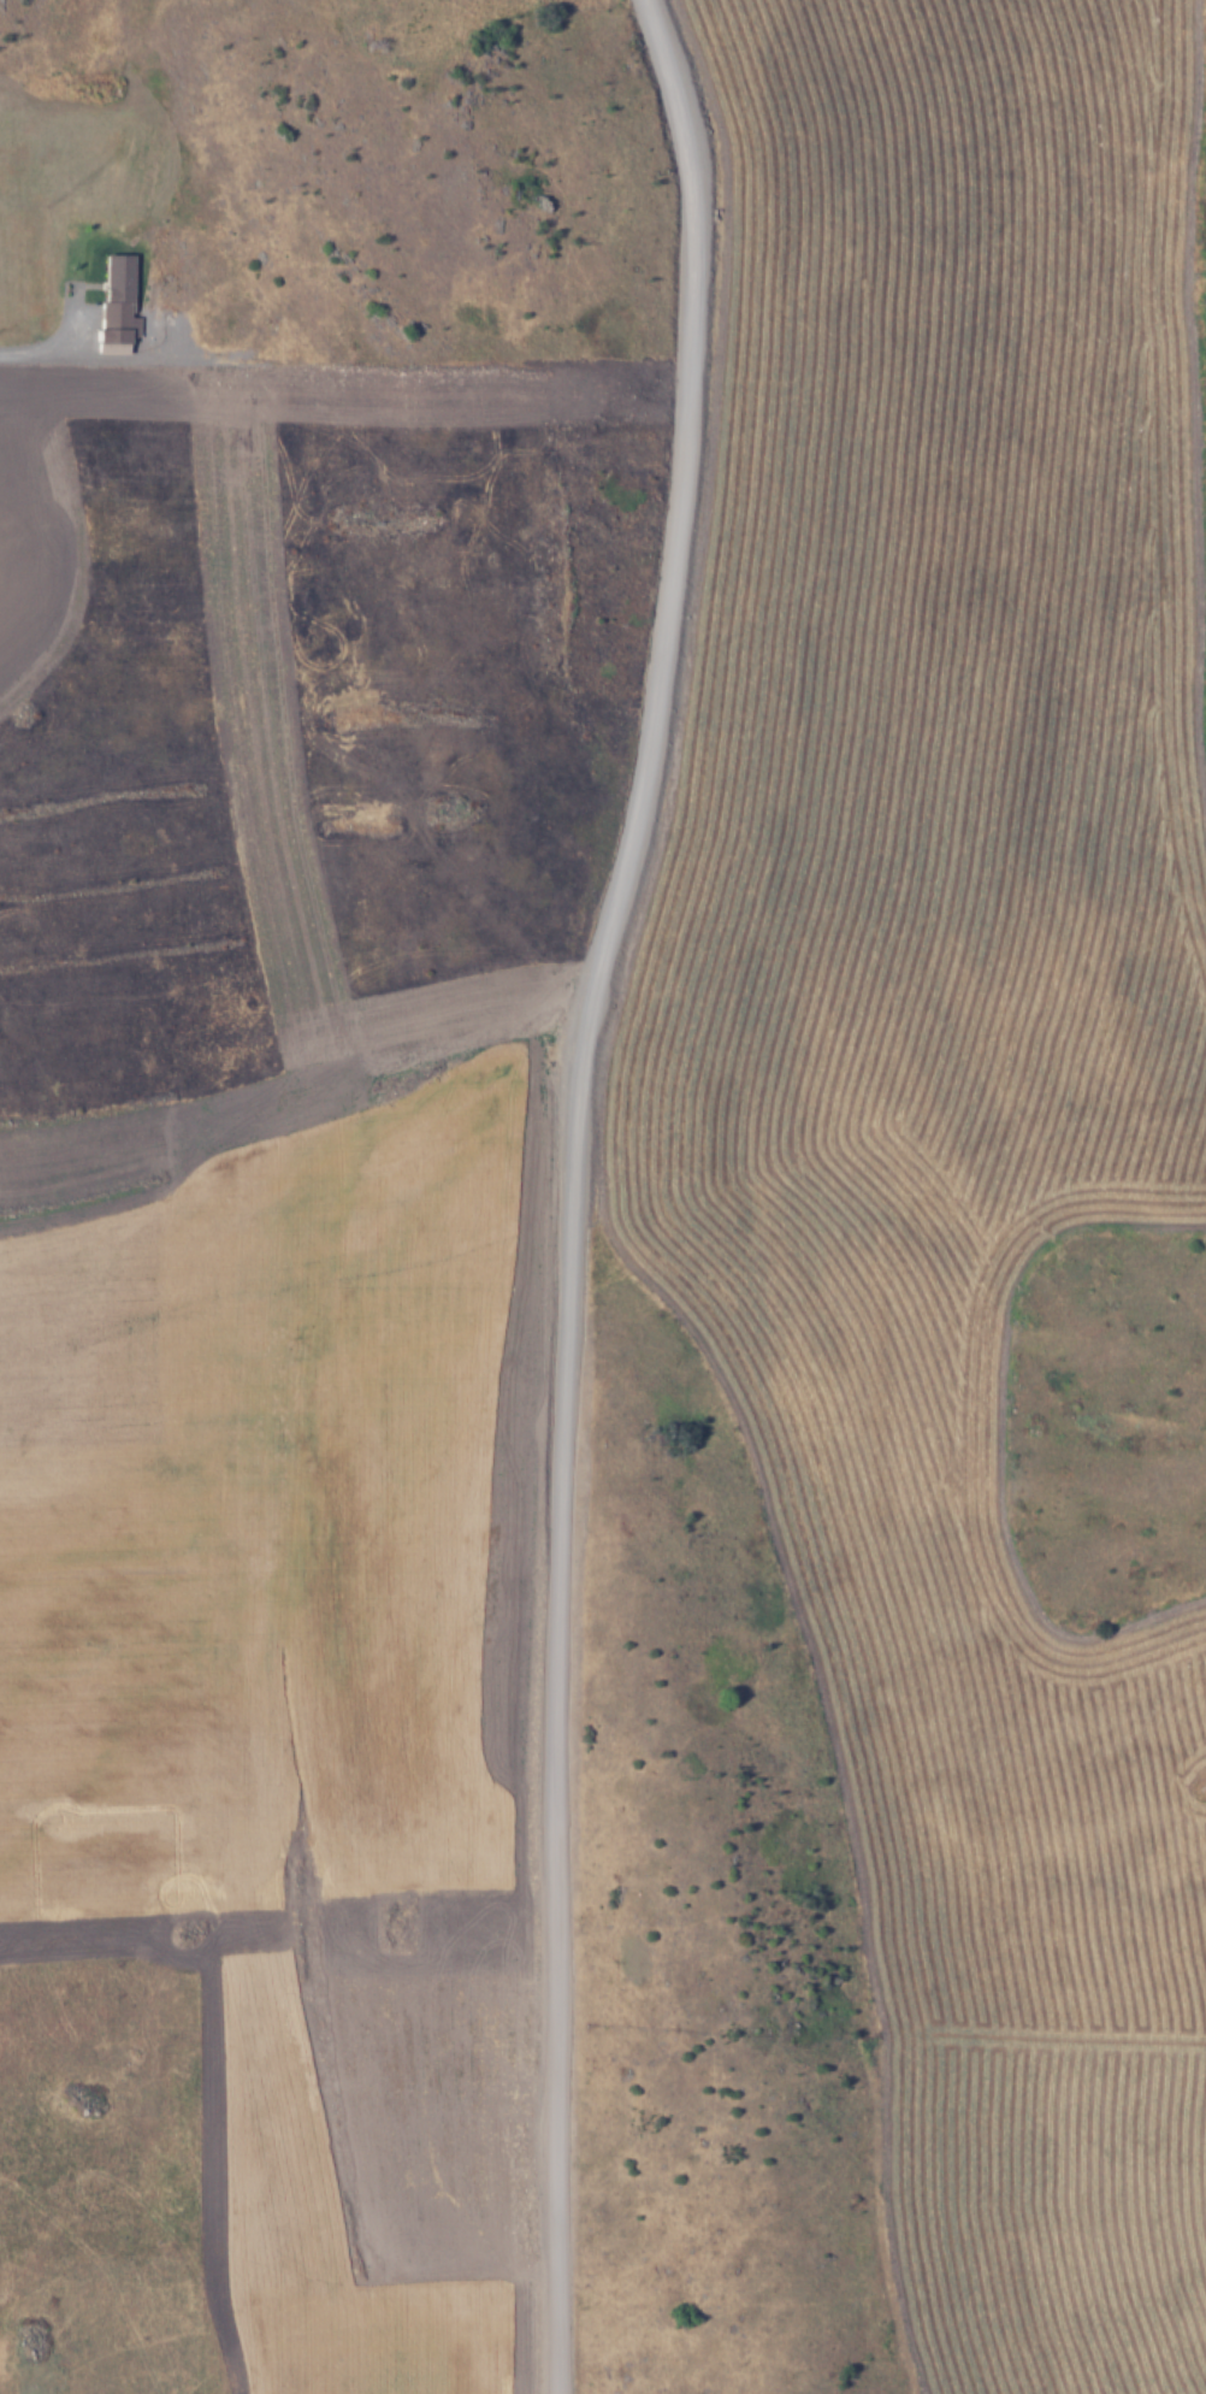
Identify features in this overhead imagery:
building: (118, 277)
building: (106, 316)
road: (577, 1187)

